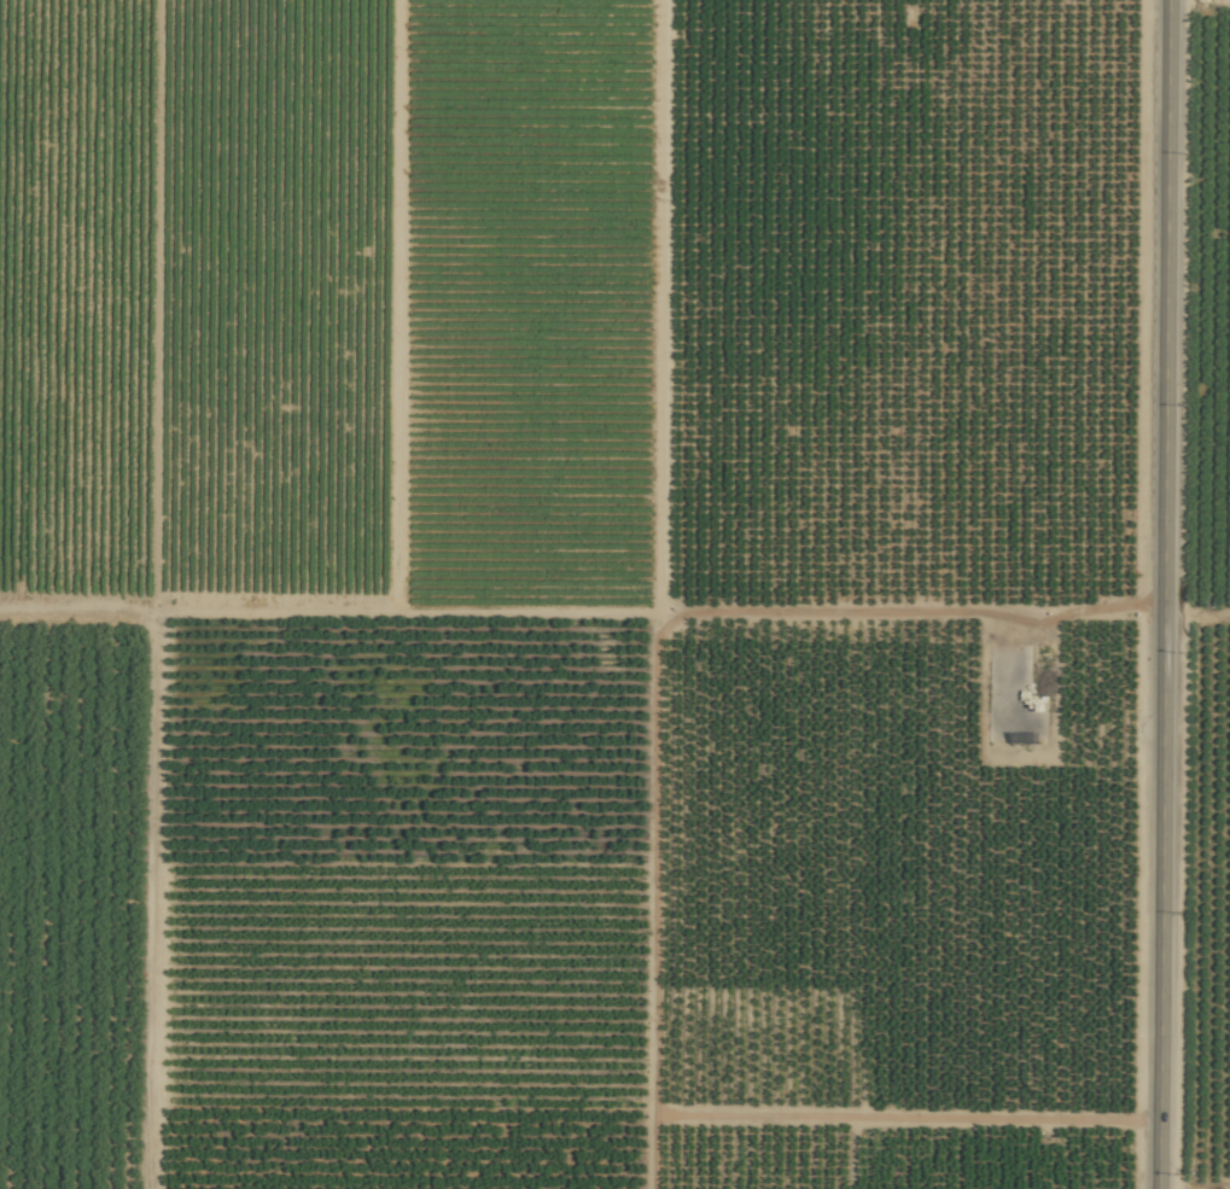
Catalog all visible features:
road: (1165, 594)

